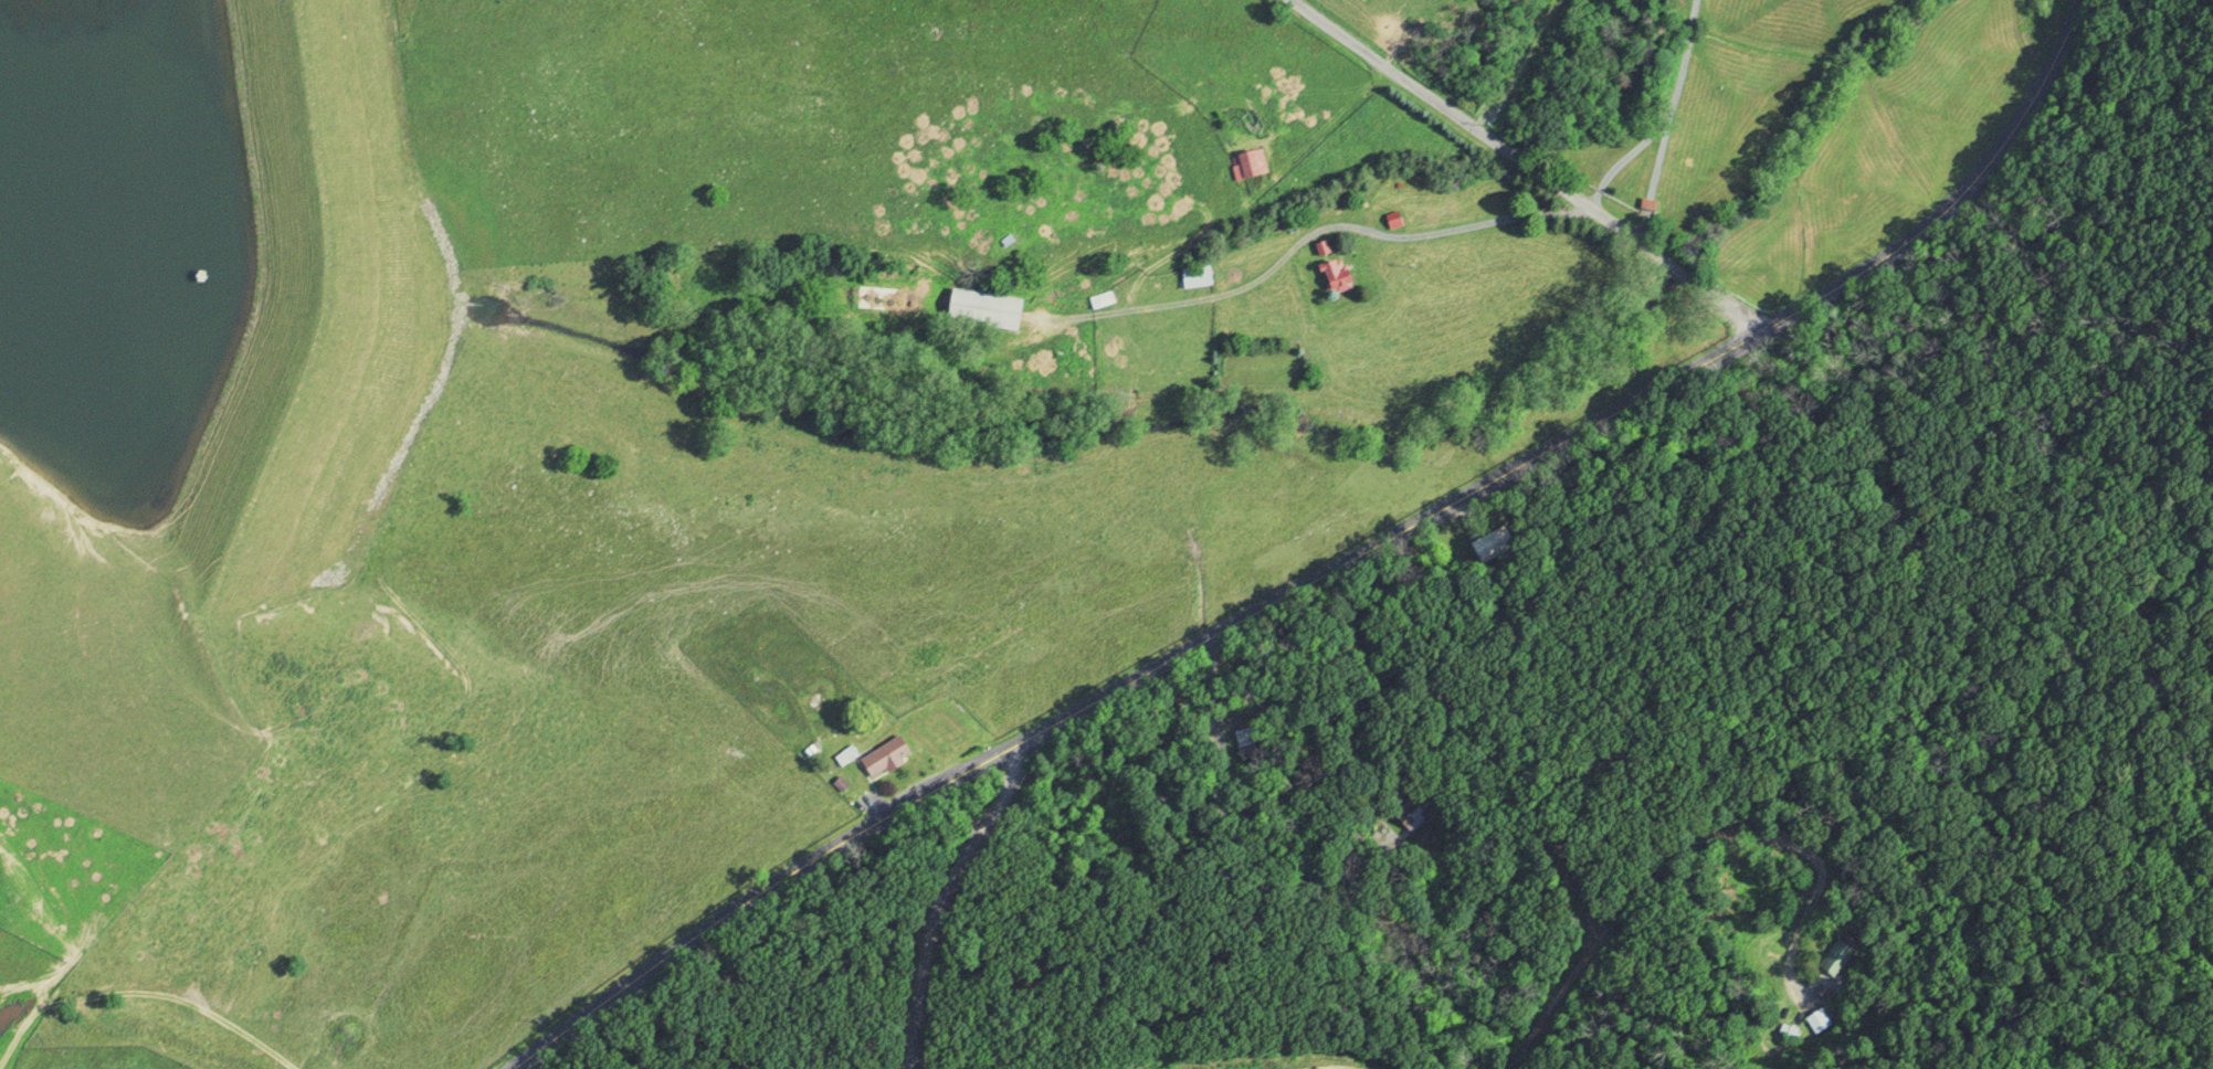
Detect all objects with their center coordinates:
road: (1671, 118)
road: (1629, 152)
building: (1252, 162)
road: (1534, 163)
road: (1457, 226)
building: (1330, 269)
building: (1194, 275)
building: (1100, 298)
building: (981, 309)
dam: (314, 325)
road: (1338, 565)
building: (845, 753)
building: (883, 754)
road: (1714, 851)
road: (799, 1006)
building: (1821, 1020)

